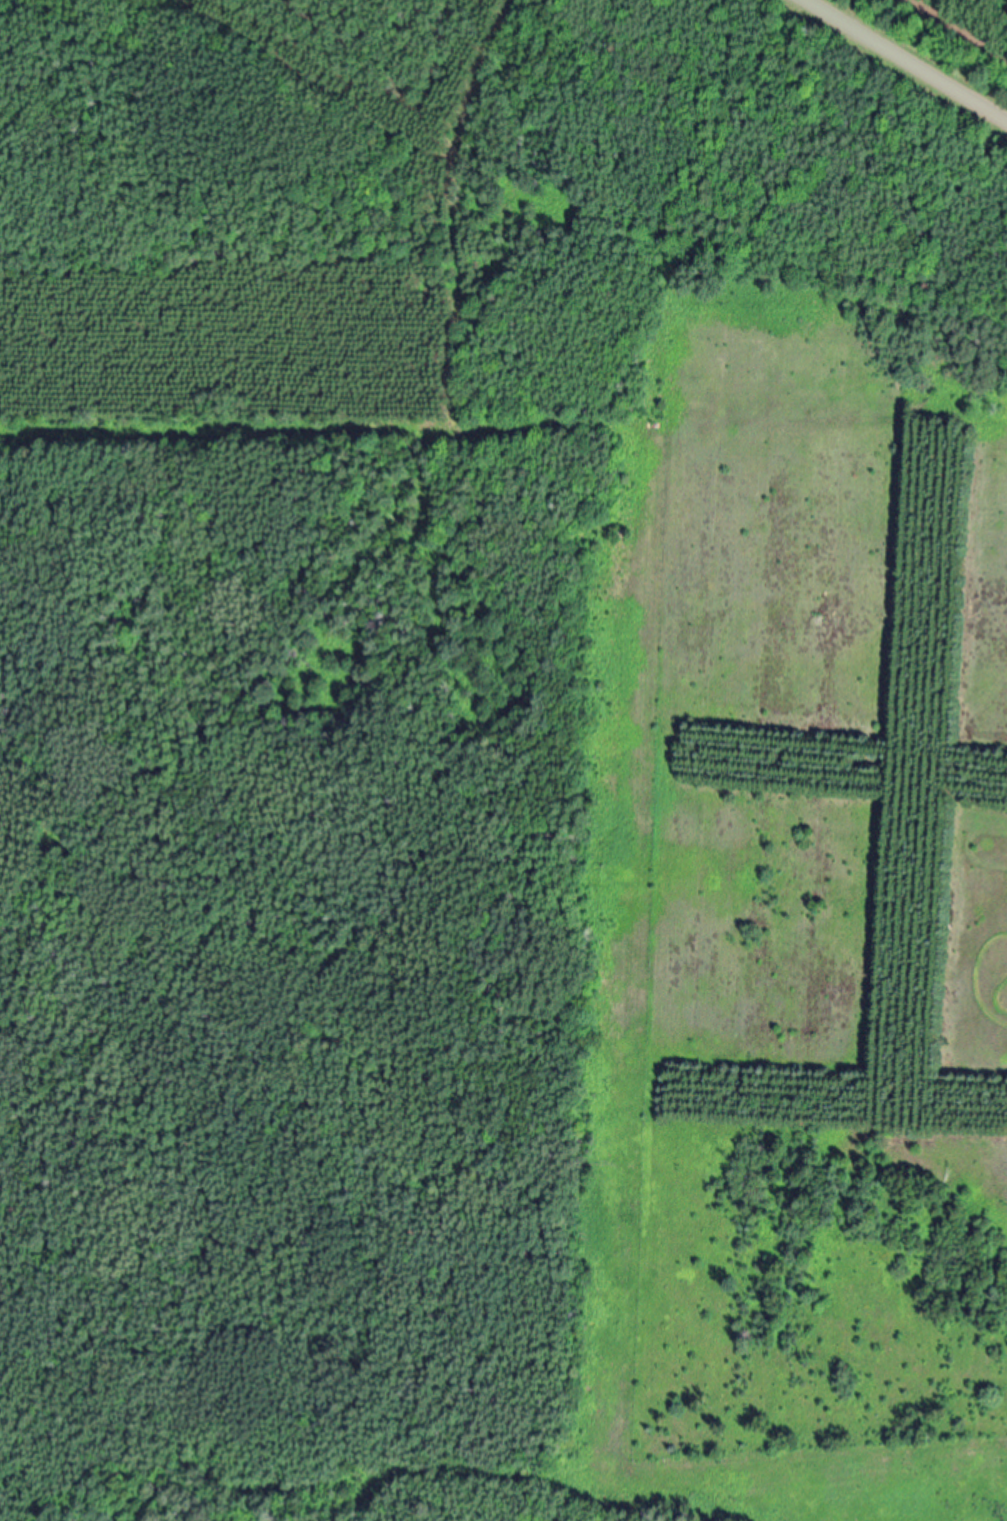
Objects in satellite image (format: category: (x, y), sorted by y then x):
road: (954, 31)
road: (907, 59)

